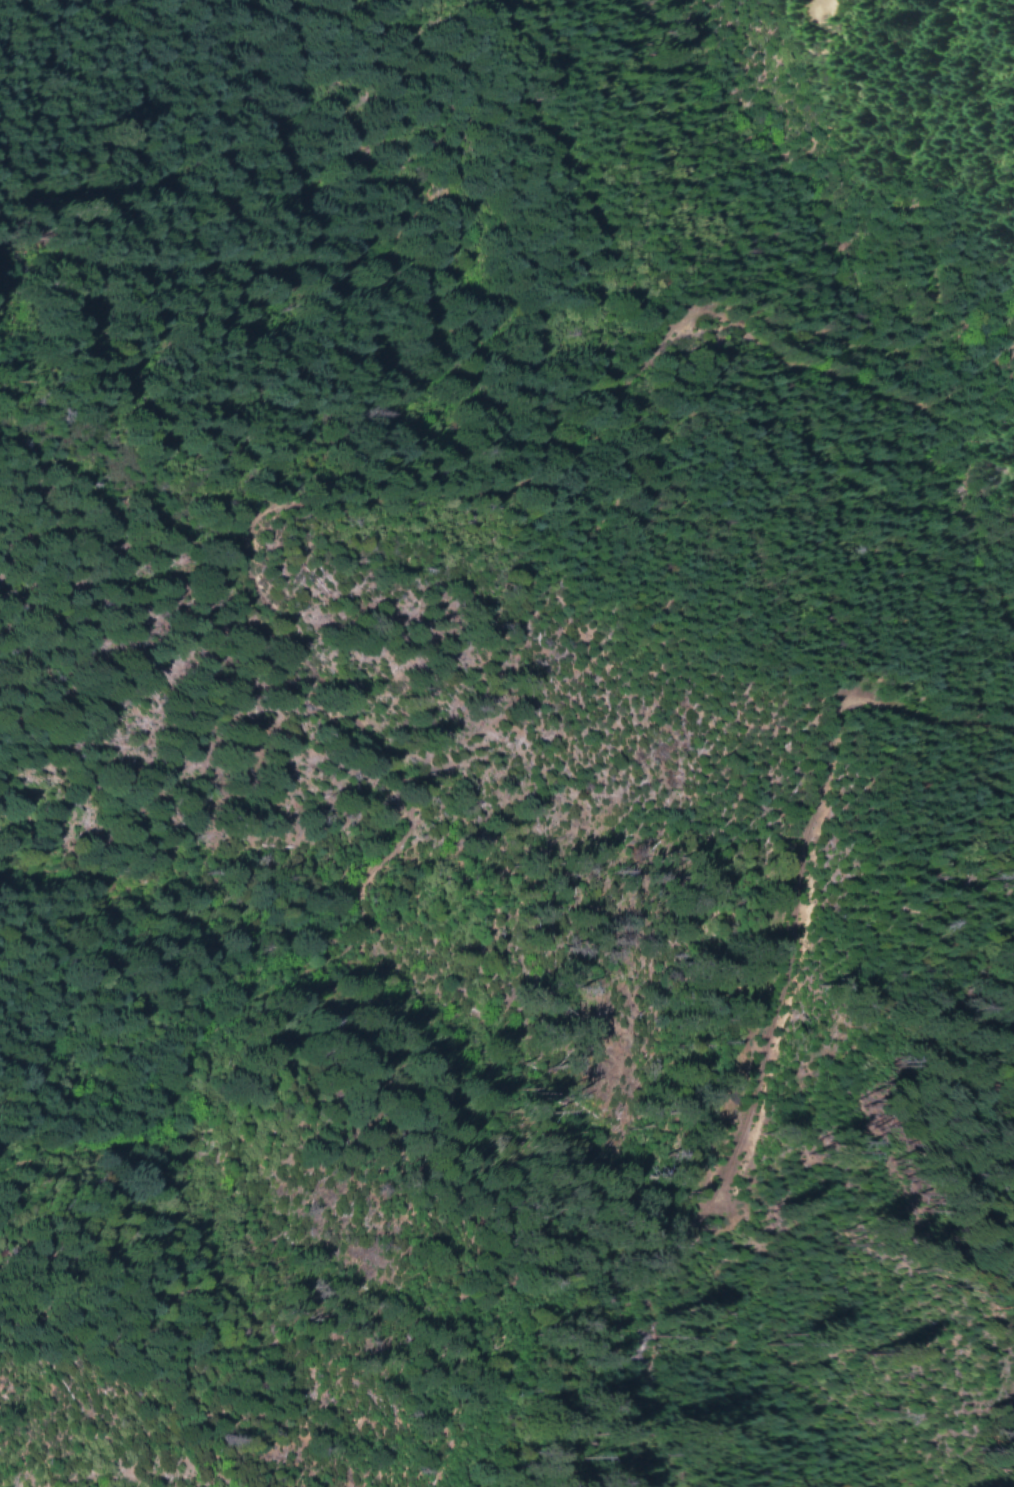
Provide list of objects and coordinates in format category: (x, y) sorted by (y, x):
road: (845, 383)
road: (795, 874)

